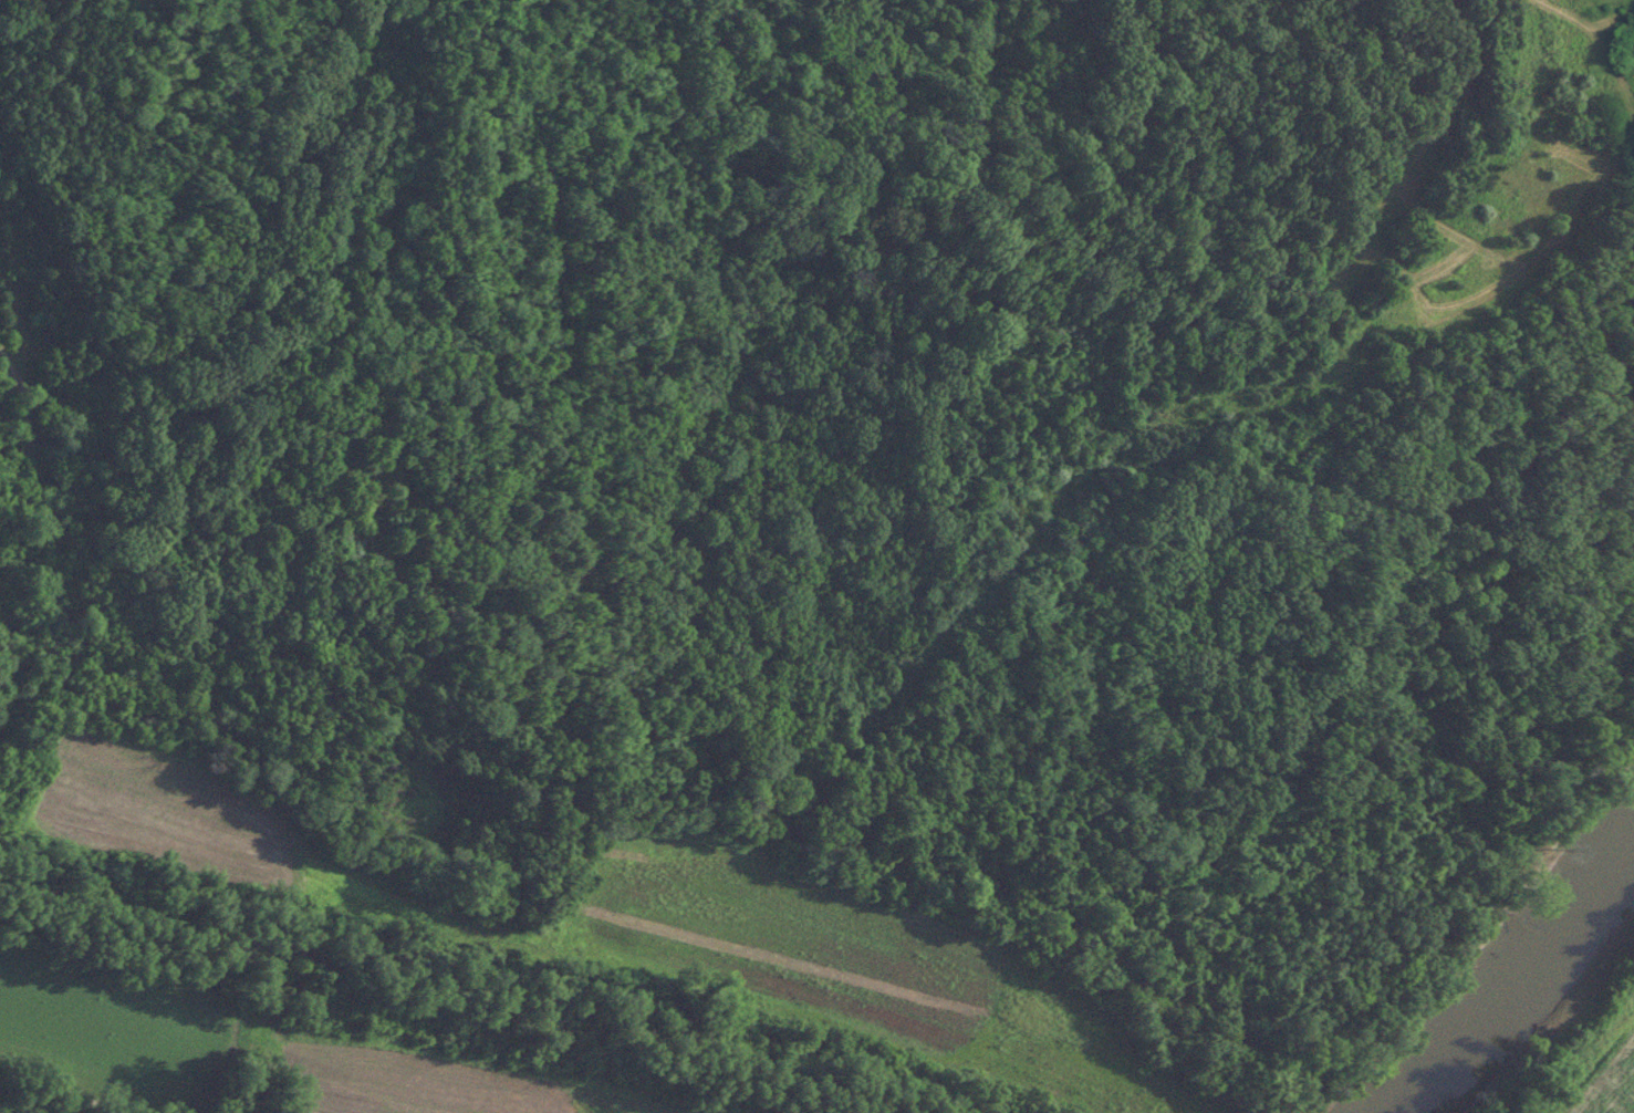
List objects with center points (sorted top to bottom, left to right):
road: (441, 981)
river: (1518, 981)
crop: (1613, 1084)

